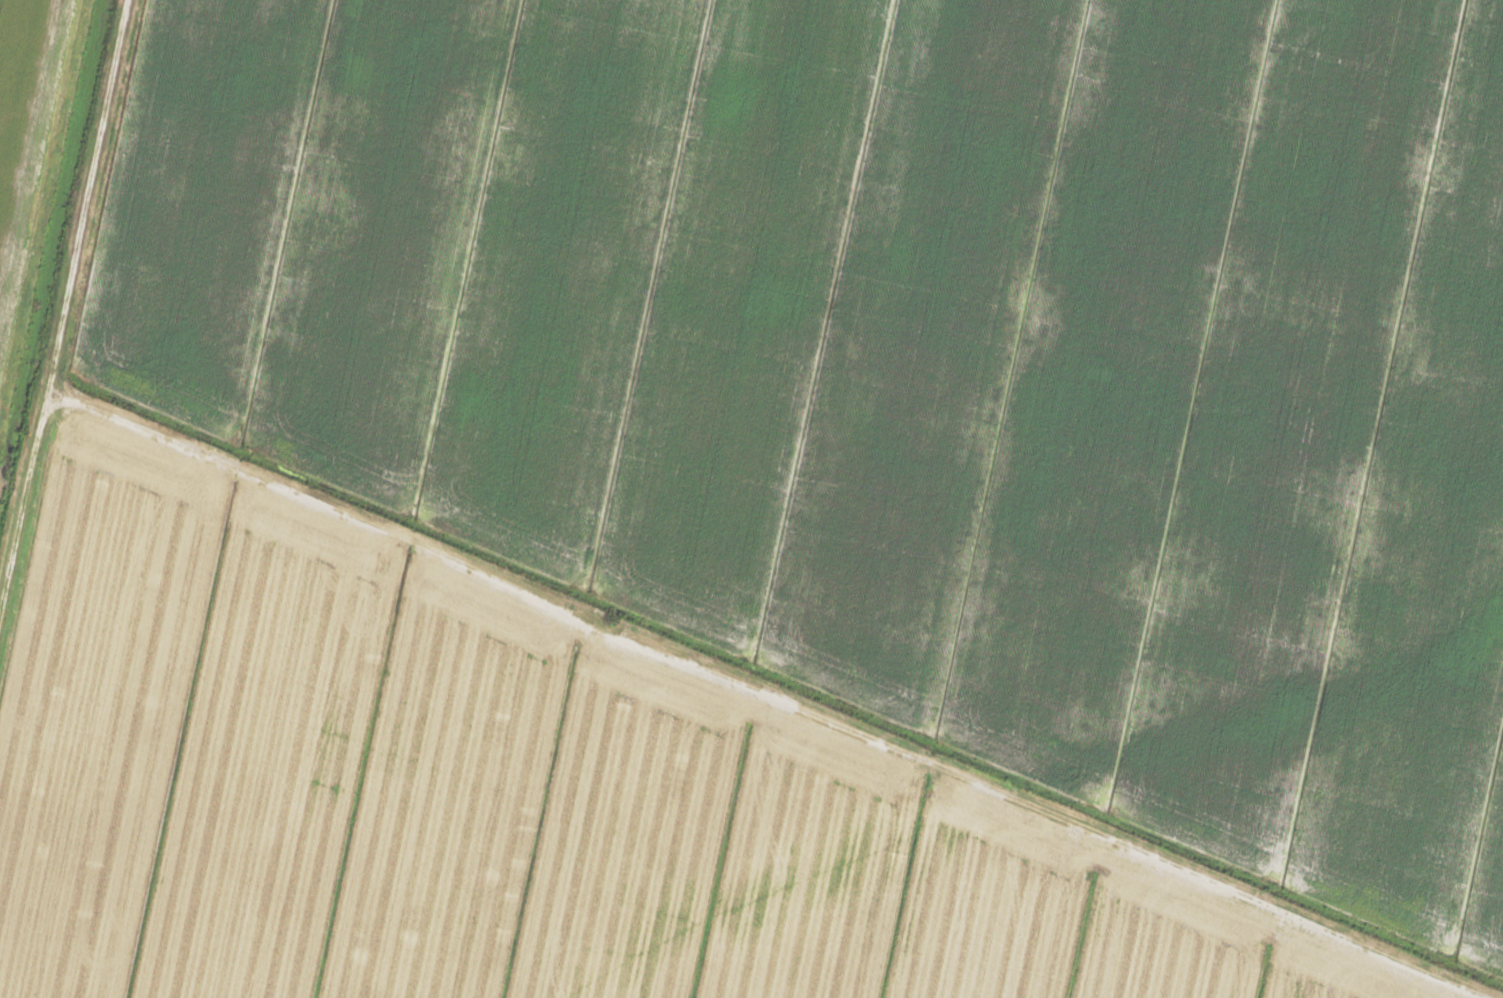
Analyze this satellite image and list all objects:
road: (65, 317)
road: (772, 694)

